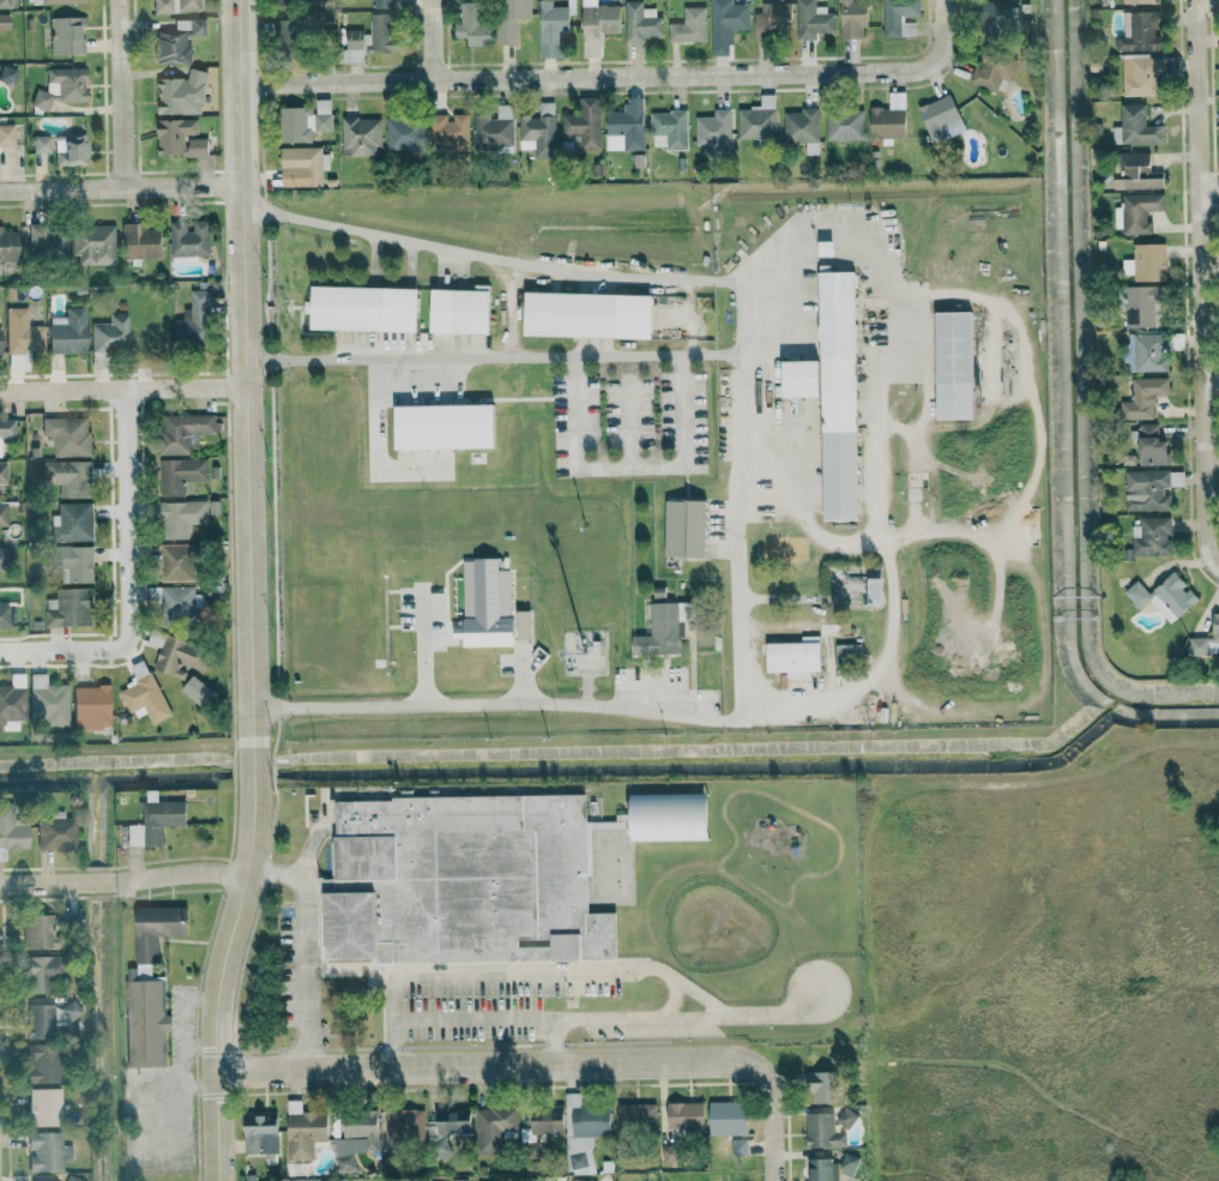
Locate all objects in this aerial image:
building: (60, 1)
building: (296, 1)
building: (1137, 1)
building: (384, 2)
building: (5, 4)
building: (175, 6)
building: (899, 17)
building: (1000, 17)
building: (509, 18)
building: (852, 18)
building: (773, 19)
building: (813, 19)
building: (4, 22)
building: (640, 22)
building: (725, 22)
building: (472, 25)
building: (597, 25)
building: (688, 25)
building: (551, 28)
building: (1140, 31)
building: (65, 35)
building: (374, 35)
building: (289, 38)
road: (429, 40)
building: (176, 41)
building: (991, 68)
building: (7, 76)
building: (1140, 76)
road: (624, 77)
building: (60, 86)
road: (120, 91)
building: (179, 94)
building: (941, 119)
building: (758, 120)
building: (888, 120)
building: (303, 121)
building: (583, 125)
building: (799, 125)
building: (844, 125)
building: (626, 126)
building: (1134, 126)
building: (670, 127)
building: (494, 128)
building: (449, 131)
building: (538, 131)
building: (713, 131)
building: (403, 133)
building: (6, 135)
building: (361, 137)
building: (179, 138)
building: (41, 144)
building: (70, 149)
building: (302, 165)
building: (1136, 173)
road: (117, 183)
road: (1209, 187)
building: (1136, 211)
building: (188, 239)
building: (139, 241)
building: (47, 242)
building: (92, 243)
building: (7, 245)
building: (1146, 263)
road: (1201, 284)
building: (1142, 305)
building: (363, 308)
building: (459, 311)
building: (587, 314)
road: (740, 317)
building: (193, 320)
building: (67, 331)
building: (22, 332)
building: (108, 337)
building: (0, 341)
building: (1147, 351)
road: (676, 353)
building: (953, 364)
building: (799, 378)
road: (1211, 379)
road: (121, 390)
building: (838, 394)
building: (1142, 398)
road: (1036, 415)
road: (629, 422)
building: (443, 426)
building: (6, 427)
building: (181, 430)
building: (67, 435)
road: (875, 439)
building: (1151, 445)
road: (628, 468)
building: (2, 472)
building: (180, 475)
building: (68, 477)
building: (1146, 490)
building: (2, 514)
building: (181, 517)
building: (72, 522)
building: (684, 528)
building: (1151, 537)
building: (4, 556)
building: (73, 561)
building: (177, 562)
road: (127, 565)
road: (1218, 566)
road: (247, 592)
building: (1164, 596)
building: (174, 602)
building: (490, 607)
building: (70, 608)
building: (4, 616)
building: (660, 629)
building: (1206, 639)
road: (13, 651)
building: (176, 655)
building: (846, 655)
building: (793, 657)
building: (195, 691)
building: (143, 693)
building: (48, 701)
building: (12, 706)
building: (91, 707)
building: (668, 817)
building: (155, 821)
building: (54, 832)
building: (11, 833)
road: (828, 868)
building: (466, 870)
road: (274, 873)
road: (123, 876)
building: (620, 880)
road: (304, 897)
building: (156, 929)
building: (35, 932)
road: (470, 971)
building: (41, 972)
road: (472, 1018)
building: (47, 1020)
road: (538, 1062)
building: (42, 1063)
building: (143, 1073)
building: (820, 1087)
building: (43, 1107)
building: (636, 1116)
building: (686, 1116)
building: (845, 1119)
building: (545, 1120)
building: (449, 1122)
building: (403, 1125)
building: (491, 1128)
building: (822, 1131)
building: (583, 1132)
building: (260, 1134)
building: (303, 1134)
building: (355, 1138)
building: (46, 1152)
building: (669, 1153)
building: (847, 1164)
building: (819, 1169)
road: (772, 1174)
building: (73, 1179)
building: (577, 1180)

